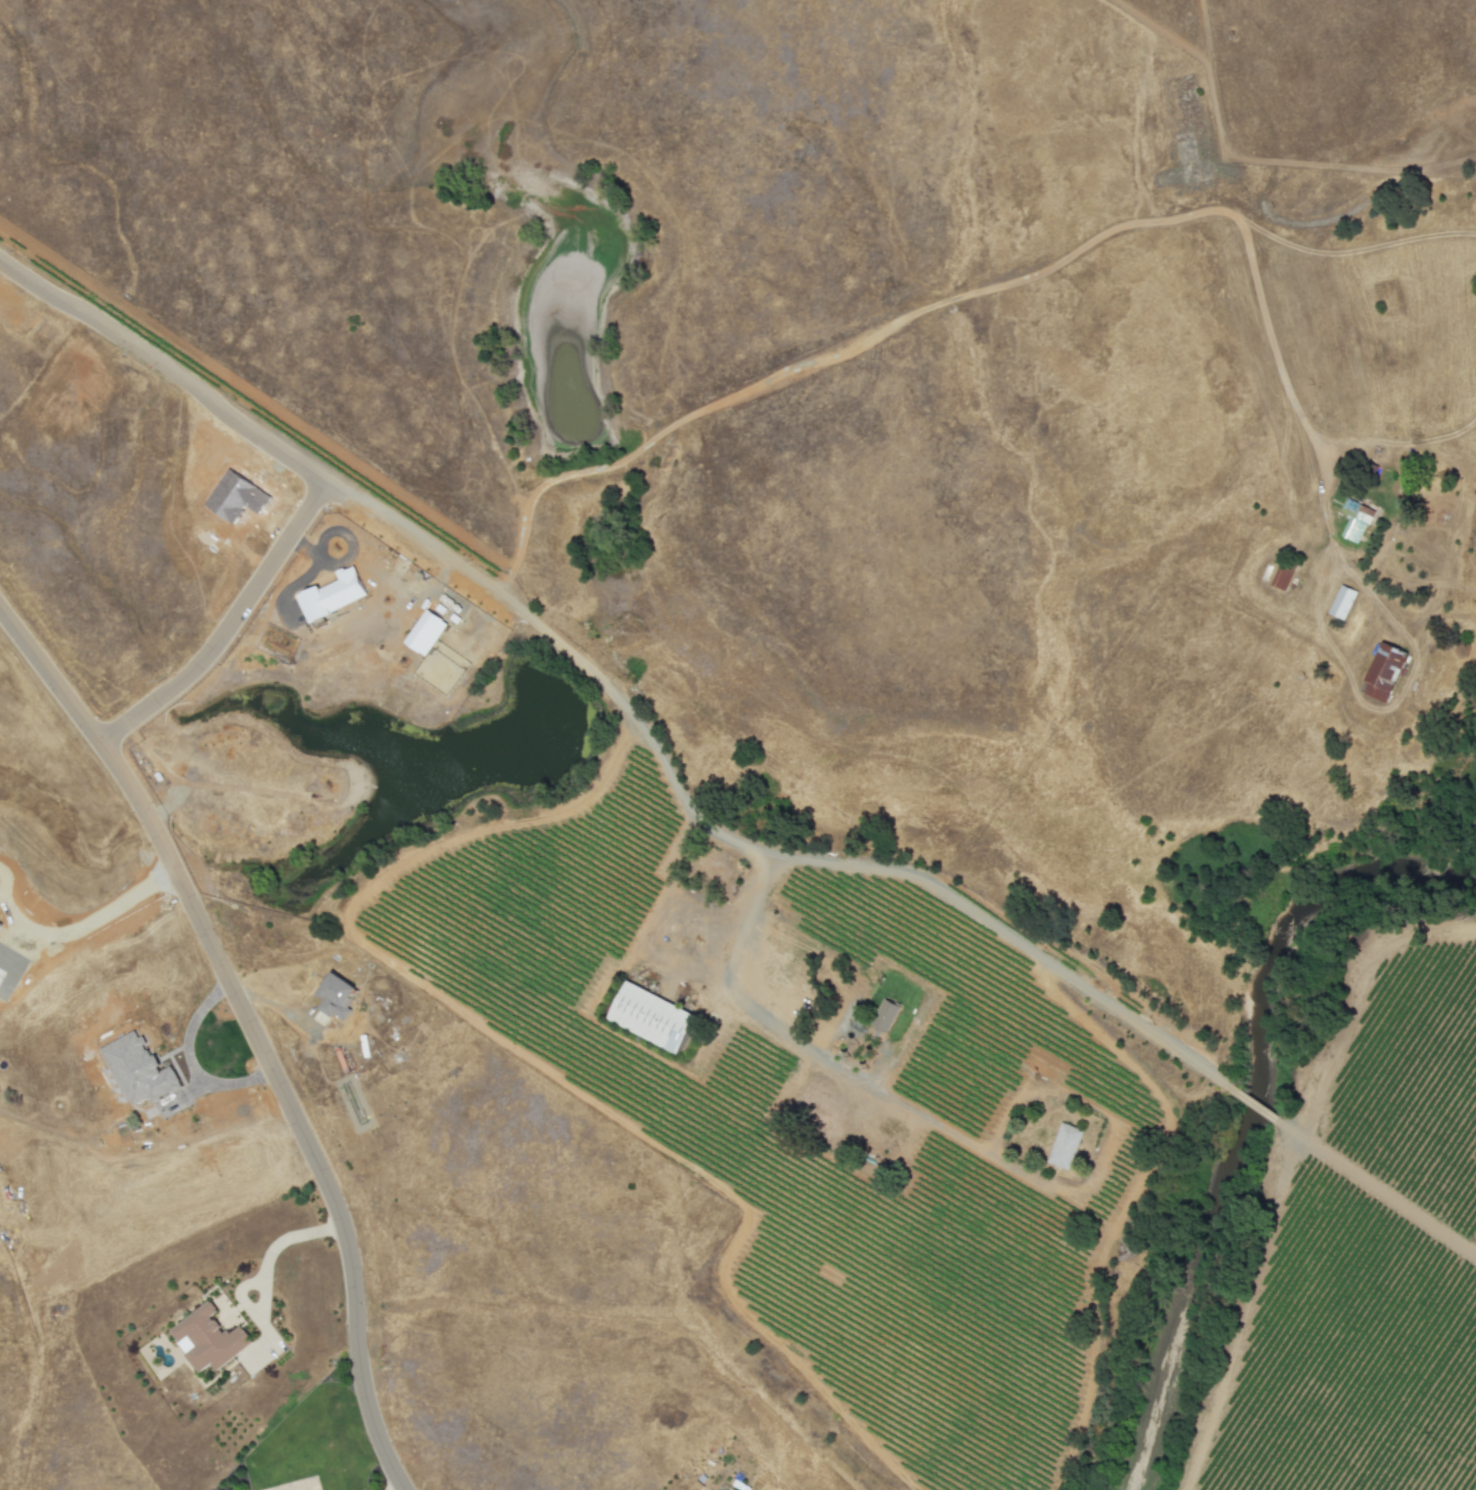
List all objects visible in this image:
road: (950, 301)
road: (314, 471)
building: (1355, 520)
building: (1282, 577)
building: (333, 594)
building: (1341, 602)
road: (227, 623)
building: (425, 632)
building: (1383, 672)
road: (660, 749)
road: (5, 888)
road: (84, 934)
building: (335, 996)
building: (884, 1016)
building: (651, 1017)
road: (780, 1028)
road: (251, 1029)
road: (193, 1063)
building: (137, 1070)
building: (1064, 1146)
road: (279, 1241)
building: (209, 1339)
road: (394, 1484)

